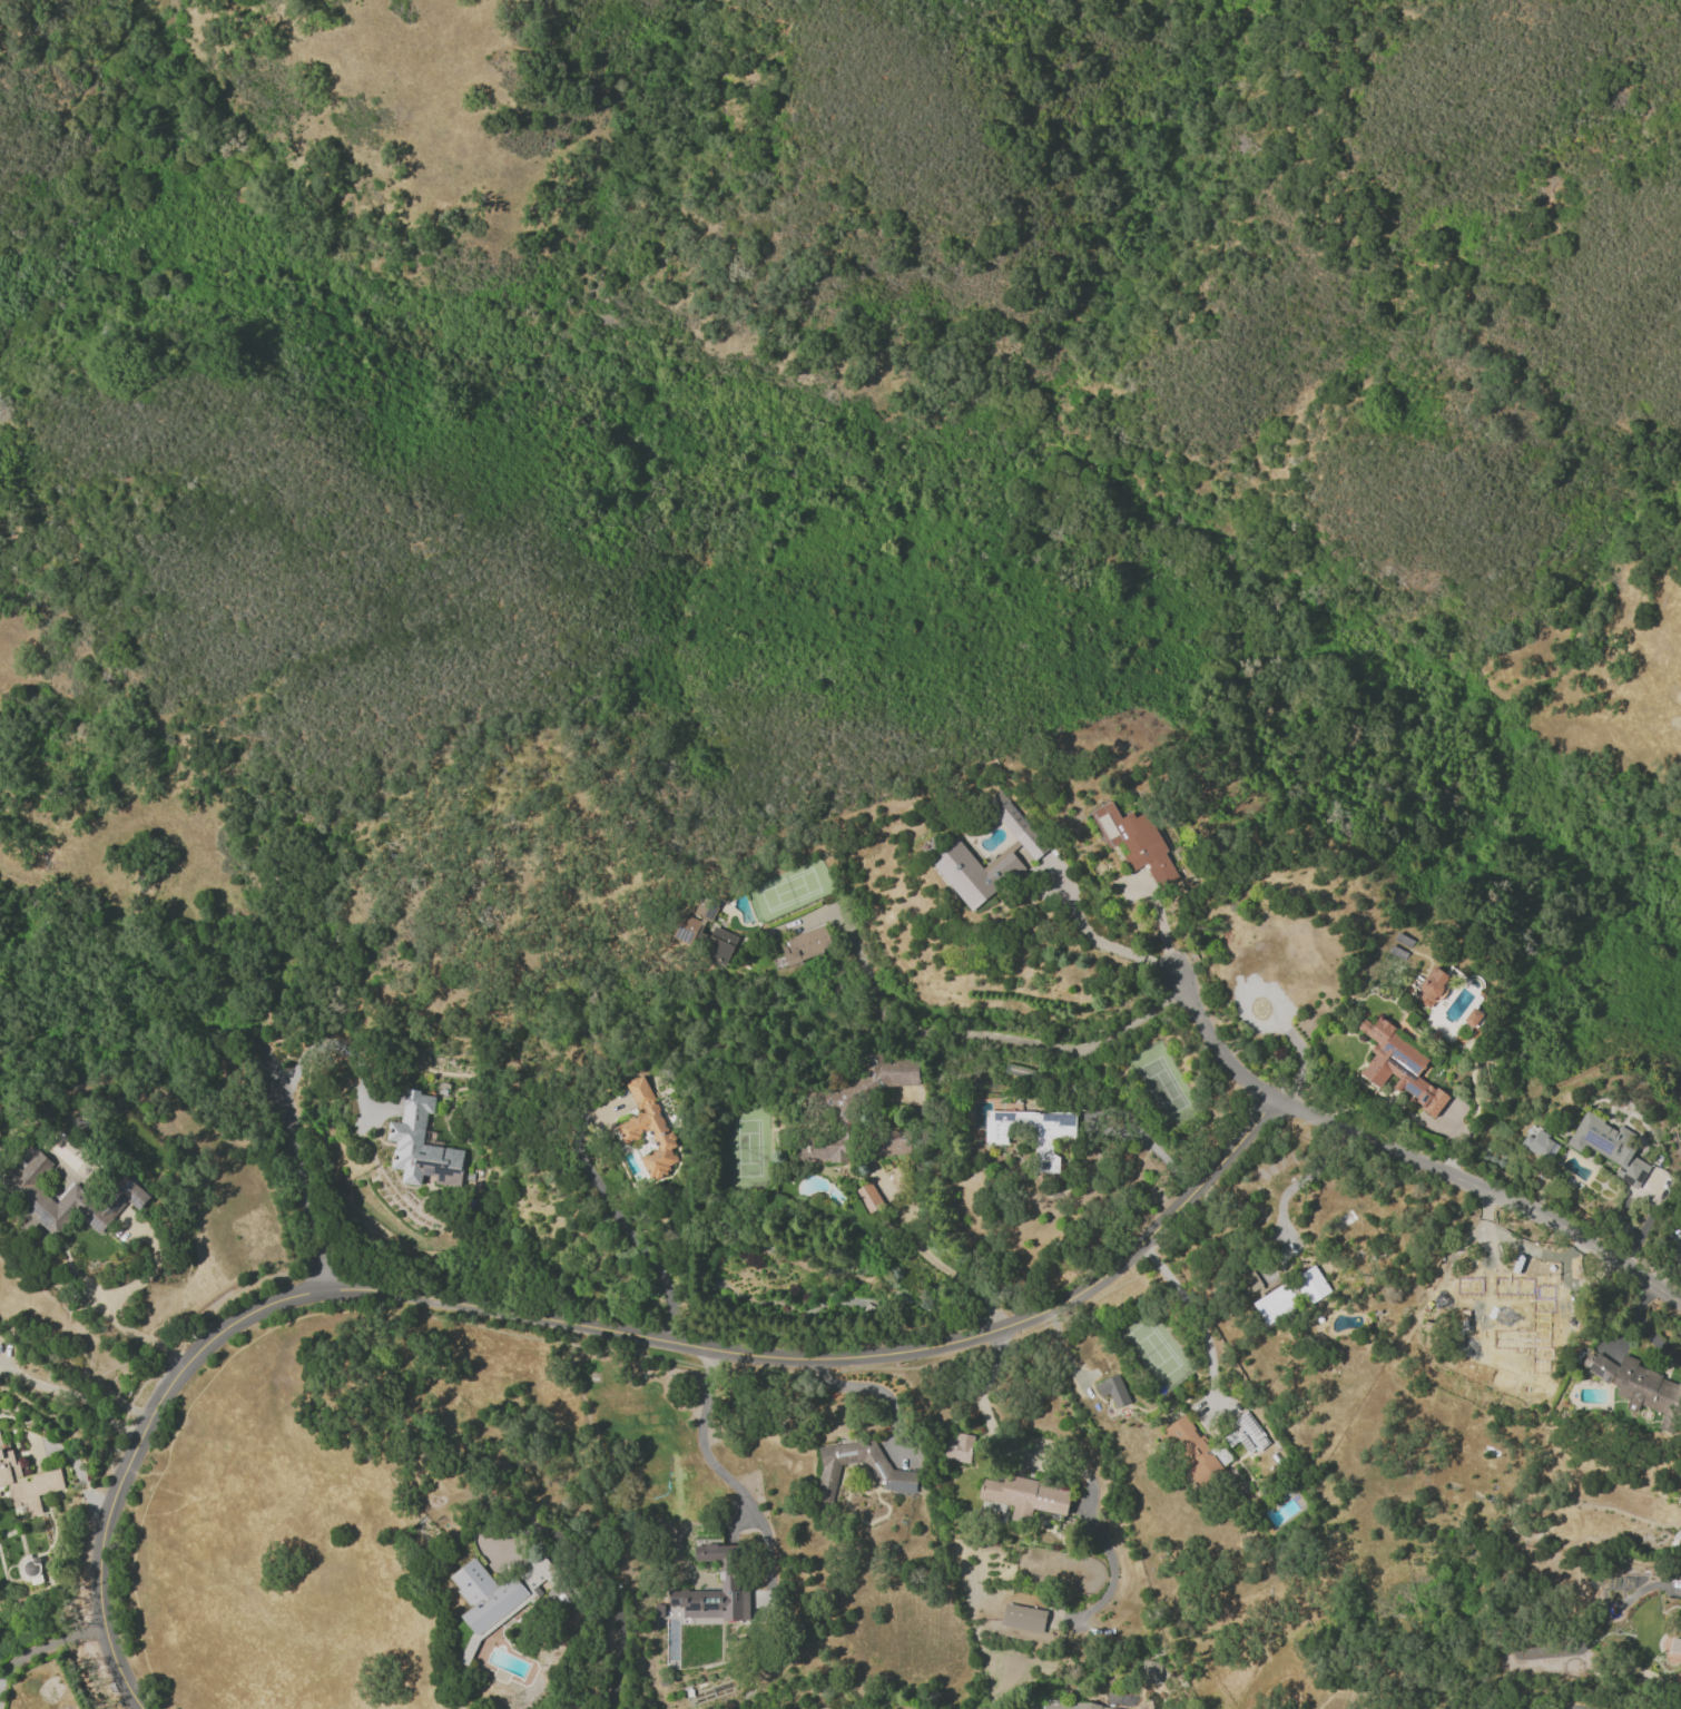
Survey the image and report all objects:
road: (7, 284)
building: (1015, 824)
building: (1134, 842)
building: (974, 873)
building: (705, 907)
road: (167, 917)
road: (1159, 923)
building: (686, 929)
road: (1100, 941)
building: (805, 944)
building: (718, 945)
building: (1432, 986)
road: (980, 1033)
road: (353, 1045)
building: (1398, 1064)
building: (854, 1102)
road: (1127, 1117)
building: (648, 1128)
building: (994, 1140)
building: (891, 1141)
building: (424, 1142)
building: (1539, 1143)
building: (1608, 1147)
road: (1405, 1158)
road: (295, 1162)
road: (1291, 1182)
building: (75, 1190)
building: (867, 1197)
road: (613, 1215)
road: (1491, 1243)
road: (945, 1270)
building: (1310, 1284)
road: (94, 1291)
road: (116, 1295)
building: (1275, 1303)
road: (1192, 1313)
building: (1502, 1319)
road: (569, 1325)
building: (1638, 1386)
road: (863, 1389)
building: (1112, 1389)
road: (70, 1397)
road: (980, 1405)
road: (62, 1428)
building: (1245, 1433)
road: (698, 1434)
building: (957, 1447)
building: (1193, 1451)
building: (883, 1469)
road: (76, 1471)
building: (26, 1483)
building: (1024, 1495)
building: (534, 1572)
building: (709, 1591)
building: (489, 1595)
building: (1022, 1618)
road: (615, 1633)
road: (47, 1643)
building: (1149, 1671)
building: (1074, 1706)

